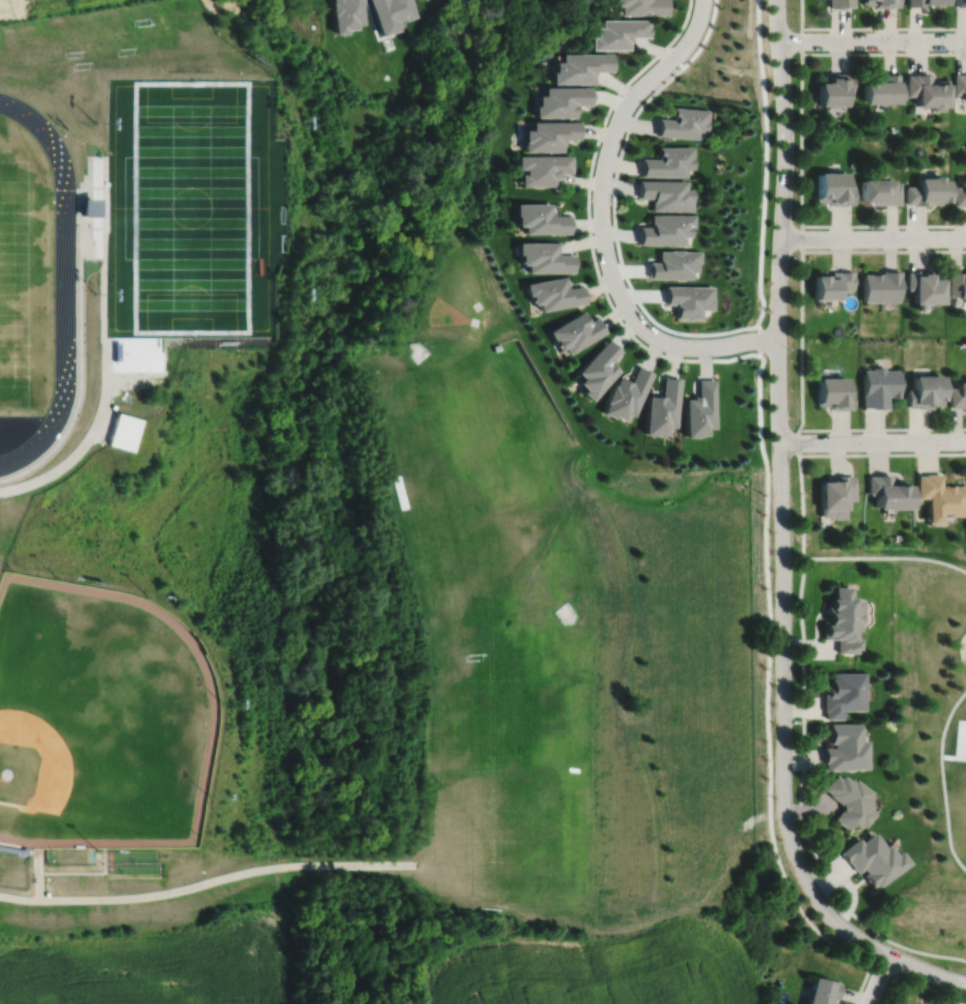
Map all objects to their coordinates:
building: (422, 0)
building: (882, 3)
building: (926, 3)
building: (960, 3)
building: (840, 4)
building: (642, 7)
building: (390, 13)
building: (344, 14)
road: (802, 15)
road: (884, 28)
street lamp: (858, 31)
building: (619, 33)
road: (872, 40)
street lamp: (952, 50)
road: (883, 53)
street lamp: (790, 61)
street lamp: (684, 62)
building: (582, 65)
building: (960, 83)
building: (834, 88)
building: (882, 88)
building: (927, 89)
building: (562, 99)
building: (683, 122)
building: (549, 133)
street lamp: (595, 161)
building: (669, 161)
building: (543, 167)
street lamp: (796, 172)
building: (834, 187)
building: (881, 190)
building: (929, 190)
building: (960, 192)
building: (667, 193)
road: (588, 199)
building: (80, 207)
park: (189, 208)
building: (541, 218)
road: (602, 222)
road: (883, 225)
building: (667, 228)
street lamp: (857, 228)
road: (802, 232)
road: (616, 235)
road: (874, 238)
street lamp: (946, 248)
road: (884, 251)
building: (544, 256)
street lamp: (792, 256)
street lamp: (599, 262)
building: (675, 264)
park: (461, 282)
building: (957, 283)
track: (62, 284)
building: (832, 284)
park: (14, 285)
building: (881, 286)
building: (926, 286)
building: (554, 292)
building: (689, 300)
park: (447, 315)
building: (576, 331)
street lamp: (681, 336)
street lamp: (787, 347)
building: (598, 369)
building: (880, 386)
building: (926, 391)
building: (834, 392)
building: (628, 394)
building: (958, 394)
building: (663, 407)
building: (700, 409)
park: (464, 410)
road: (882, 429)
building: (122, 431)
street lamp: (900, 431)
street lamp: (805, 432)
road: (872, 441)
road: (797, 443)
road: (882, 454)
building: (889, 492)
building: (835, 495)
building: (940, 497)
street lamp: (791, 512)
road: (782, 539)
park: (521, 557)
road: (885, 557)
building: (842, 621)
street lamp: (794, 622)
building: (843, 695)
park: (98, 719)
street lamp: (794, 723)
park: (926, 724)
building: (844, 748)
road: (803, 753)
park: (503, 769)
road: (943, 780)
building: (849, 799)
street lamp: (806, 855)
building: (873, 858)
road: (38, 873)
road: (207, 882)
road: (817, 931)
street lamp: (868, 954)
road: (884, 965)
crop: (152, 966)
crop: (600, 968)
road: (878, 979)
road: (864, 981)
road: (927, 985)
road: (888, 988)
building: (821, 991)
street lamp: (965, 995)

